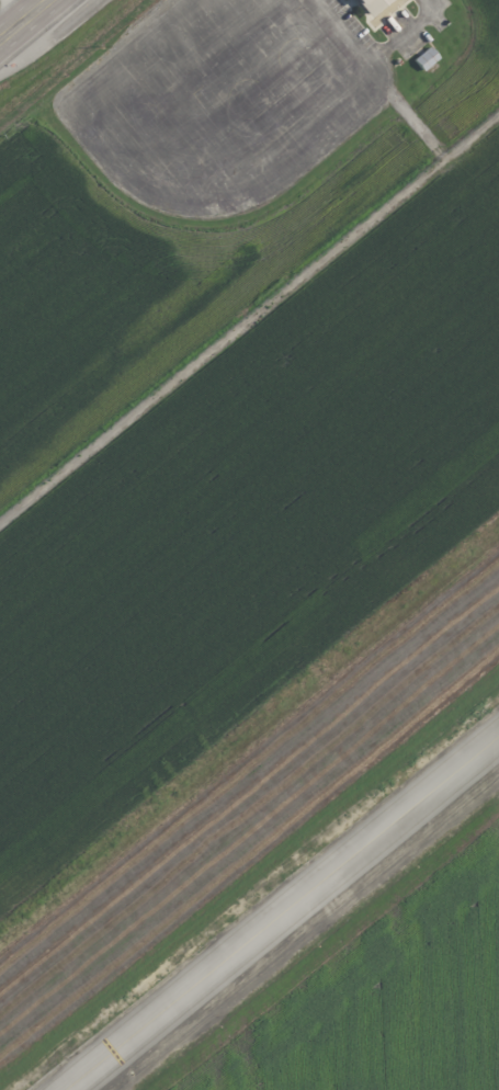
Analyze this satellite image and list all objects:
building: (379, 8)
road: (10, 9)
road: (20, 15)
building: (427, 58)
road: (373, 61)
road: (158, 197)
airport: (271, 694)
airport taxiway: (282, 912)

